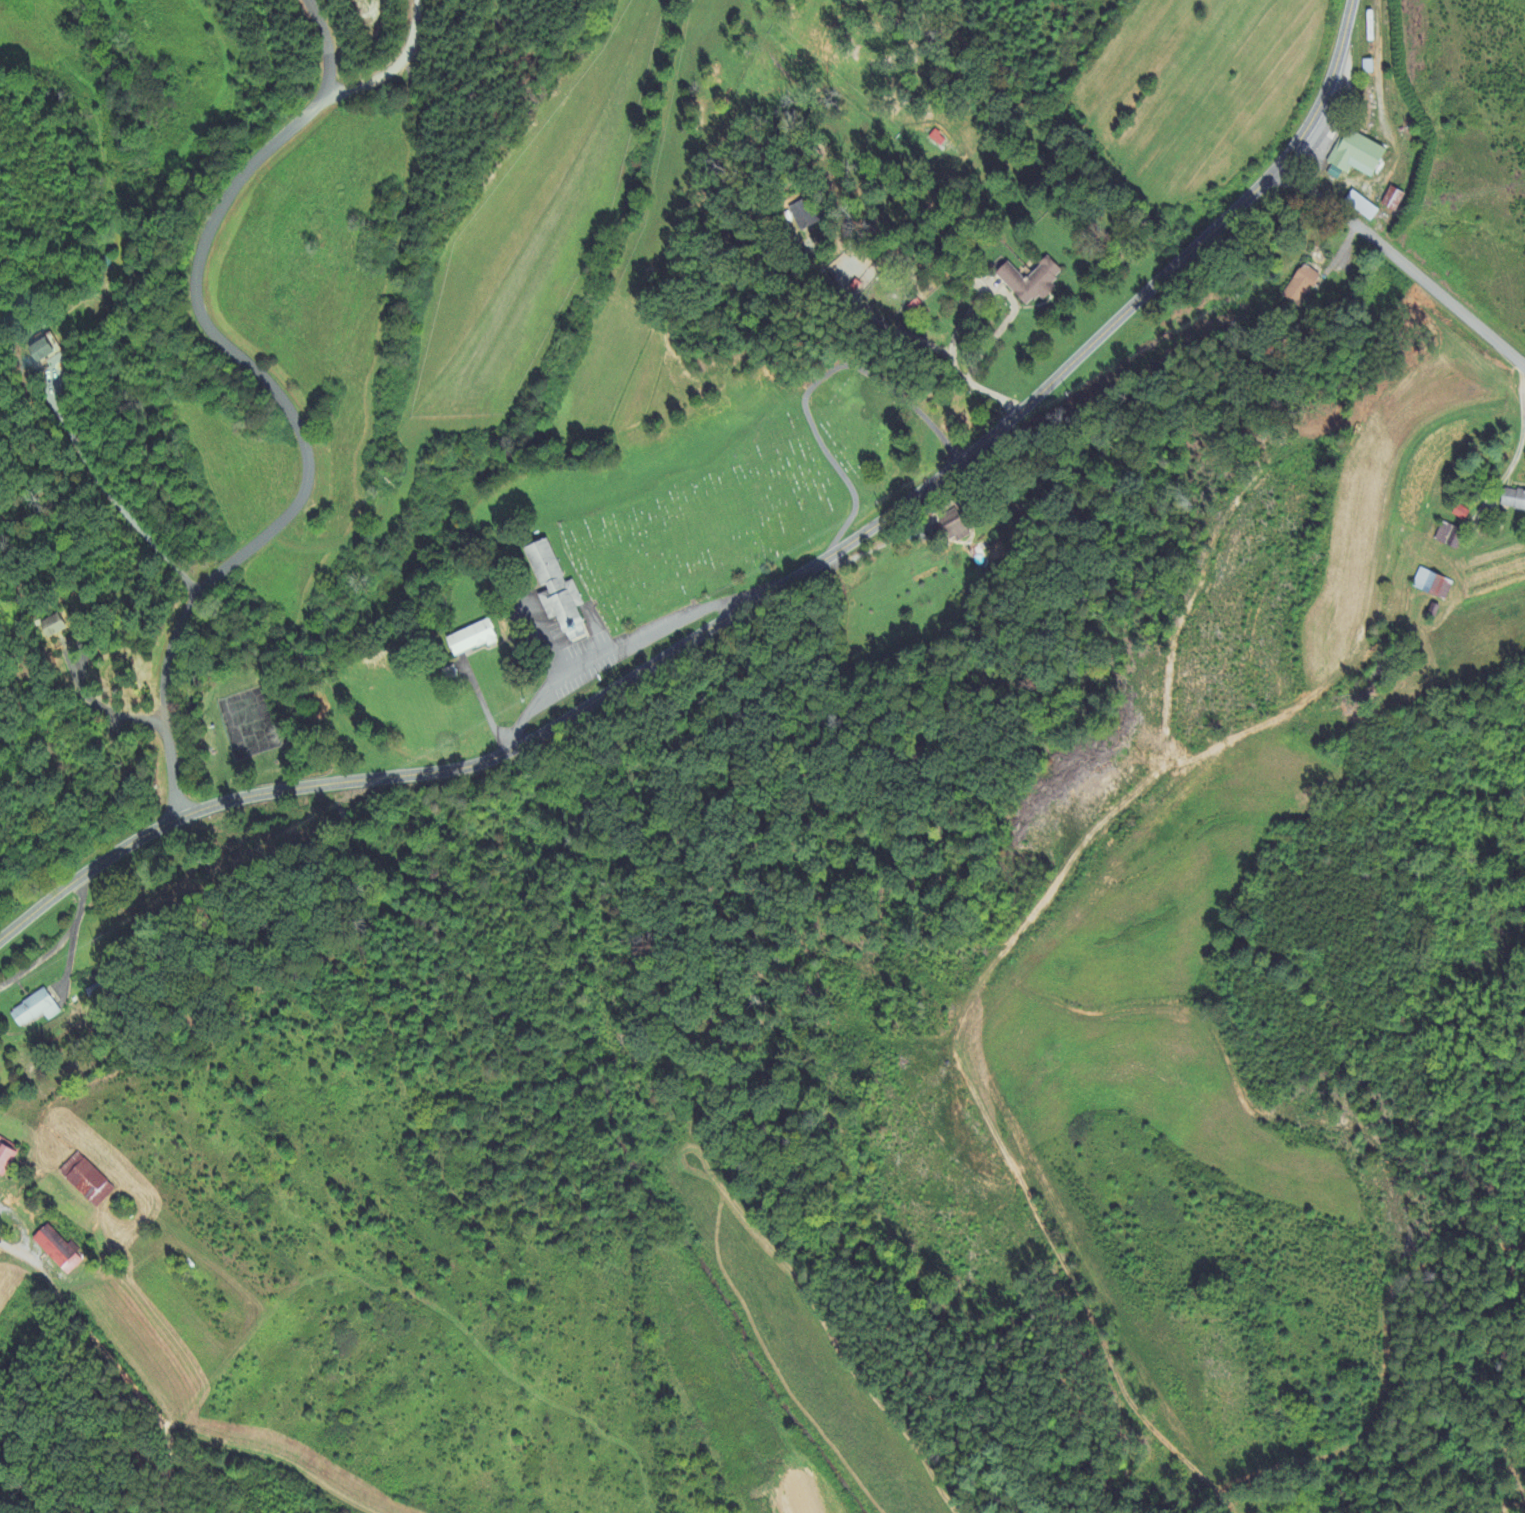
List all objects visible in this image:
road: (393, 67)
building: (936, 139)
building: (1354, 156)
building: (1361, 207)
building: (801, 215)
road: (1401, 271)
building: (1029, 282)
building: (1299, 286)
road: (1014, 308)
building: (40, 352)
road: (813, 385)
road: (275, 402)
road: (117, 490)
park: (755, 495)
building: (1513, 501)
building: (1459, 514)
building: (953, 527)
building: (1432, 585)
building: (555, 590)
road: (762, 594)
building: (534, 619)
building: (53, 627)
building: (470, 639)
road: (609, 649)
road: (484, 709)
building: (34, 1010)
building: (5, 1159)
building: (86, 1183)
building: (56, 1250)
road: (117, 1400)

